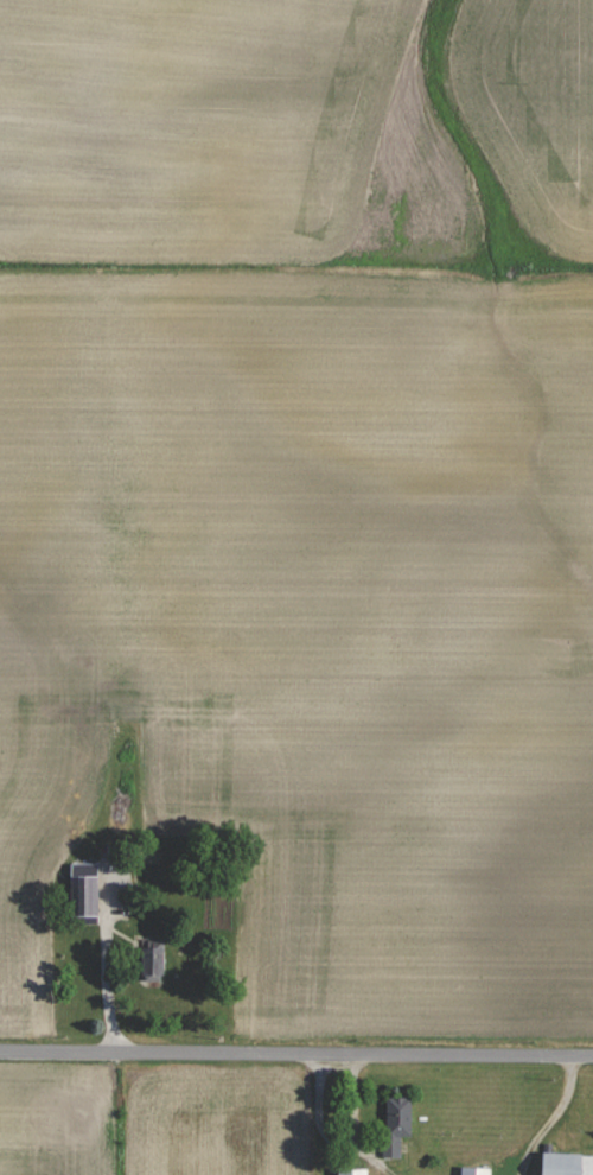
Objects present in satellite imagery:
road: (104, 955)
road: (296, 1053)
road: (554, 1118)
building: (397, 1123)
road: (327, 1131)
building: (567, 1163)
building: (362, 1170)
building: (477, 1170)

